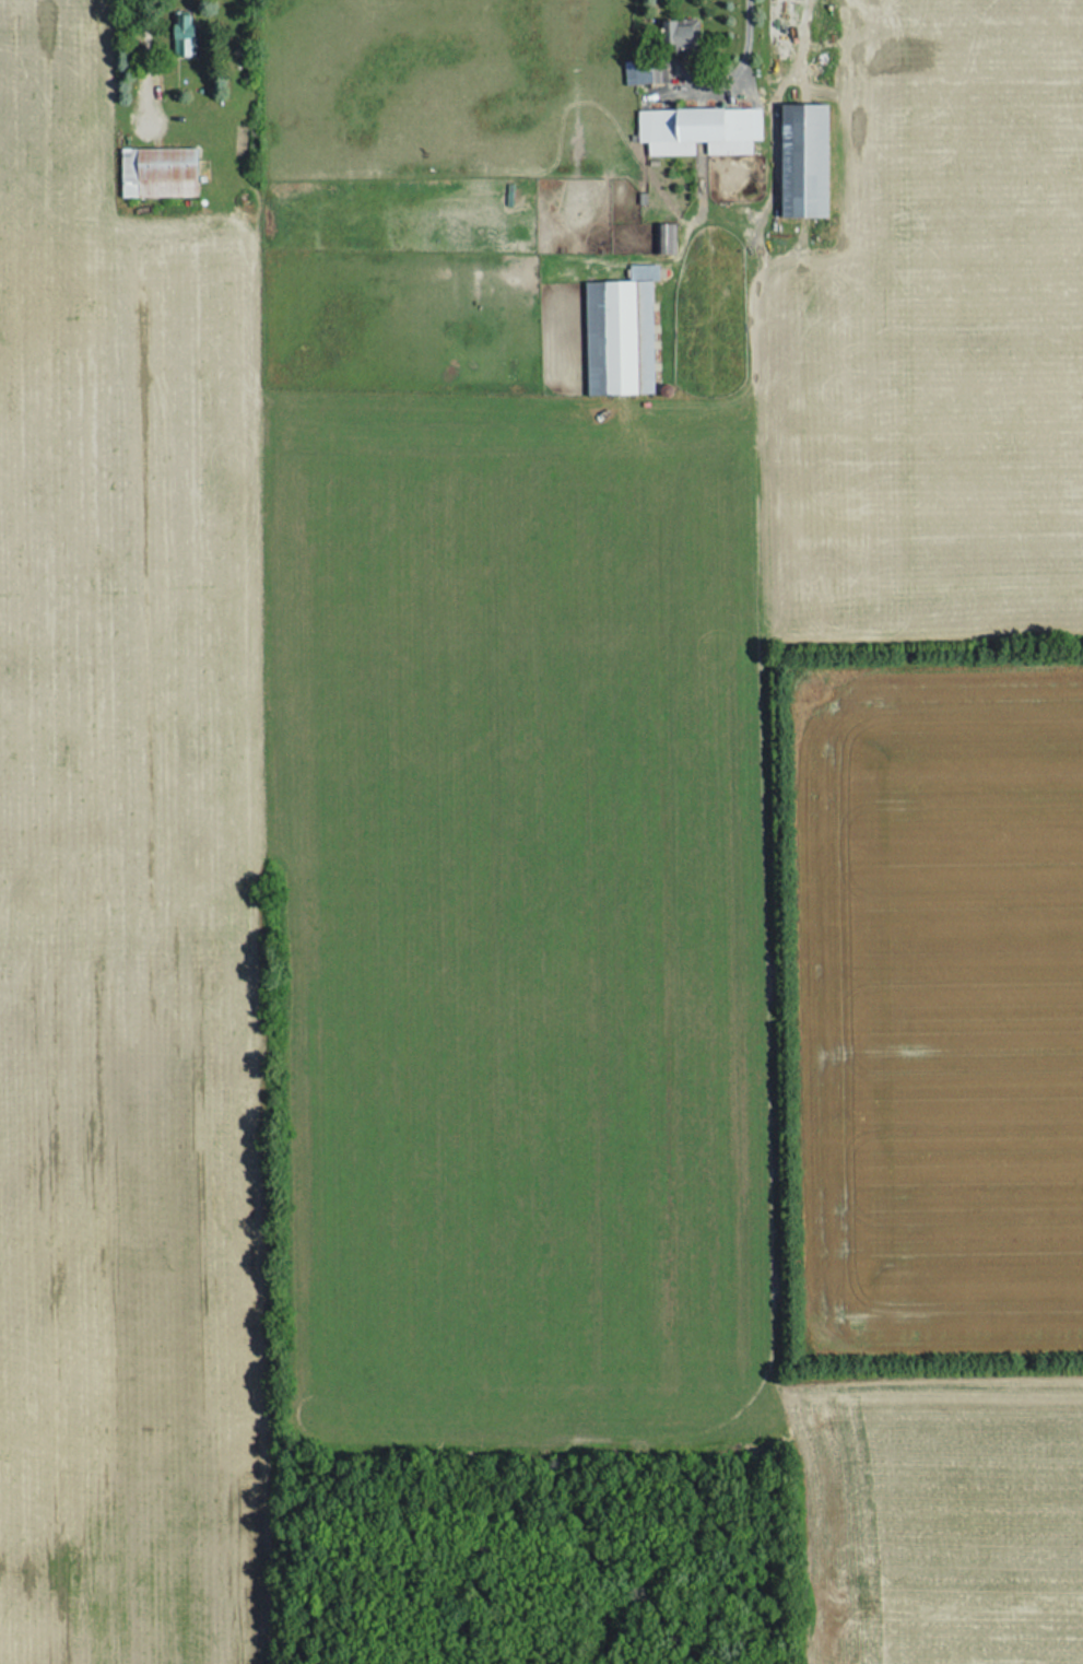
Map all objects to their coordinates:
building: (178, 37)
building: (673, 38)
road: (745, 44)
road: (149, 47)
building: (638, 72)
building: (694, 131)
building: (798, 162)
building: (154, 173)
building: (660, 239)
building: (617, 332)
crop: (940, 341)
crop: (130, 905)
crop: (515, 921)
crop: (931, 1003)
crop: (939, 1517)

